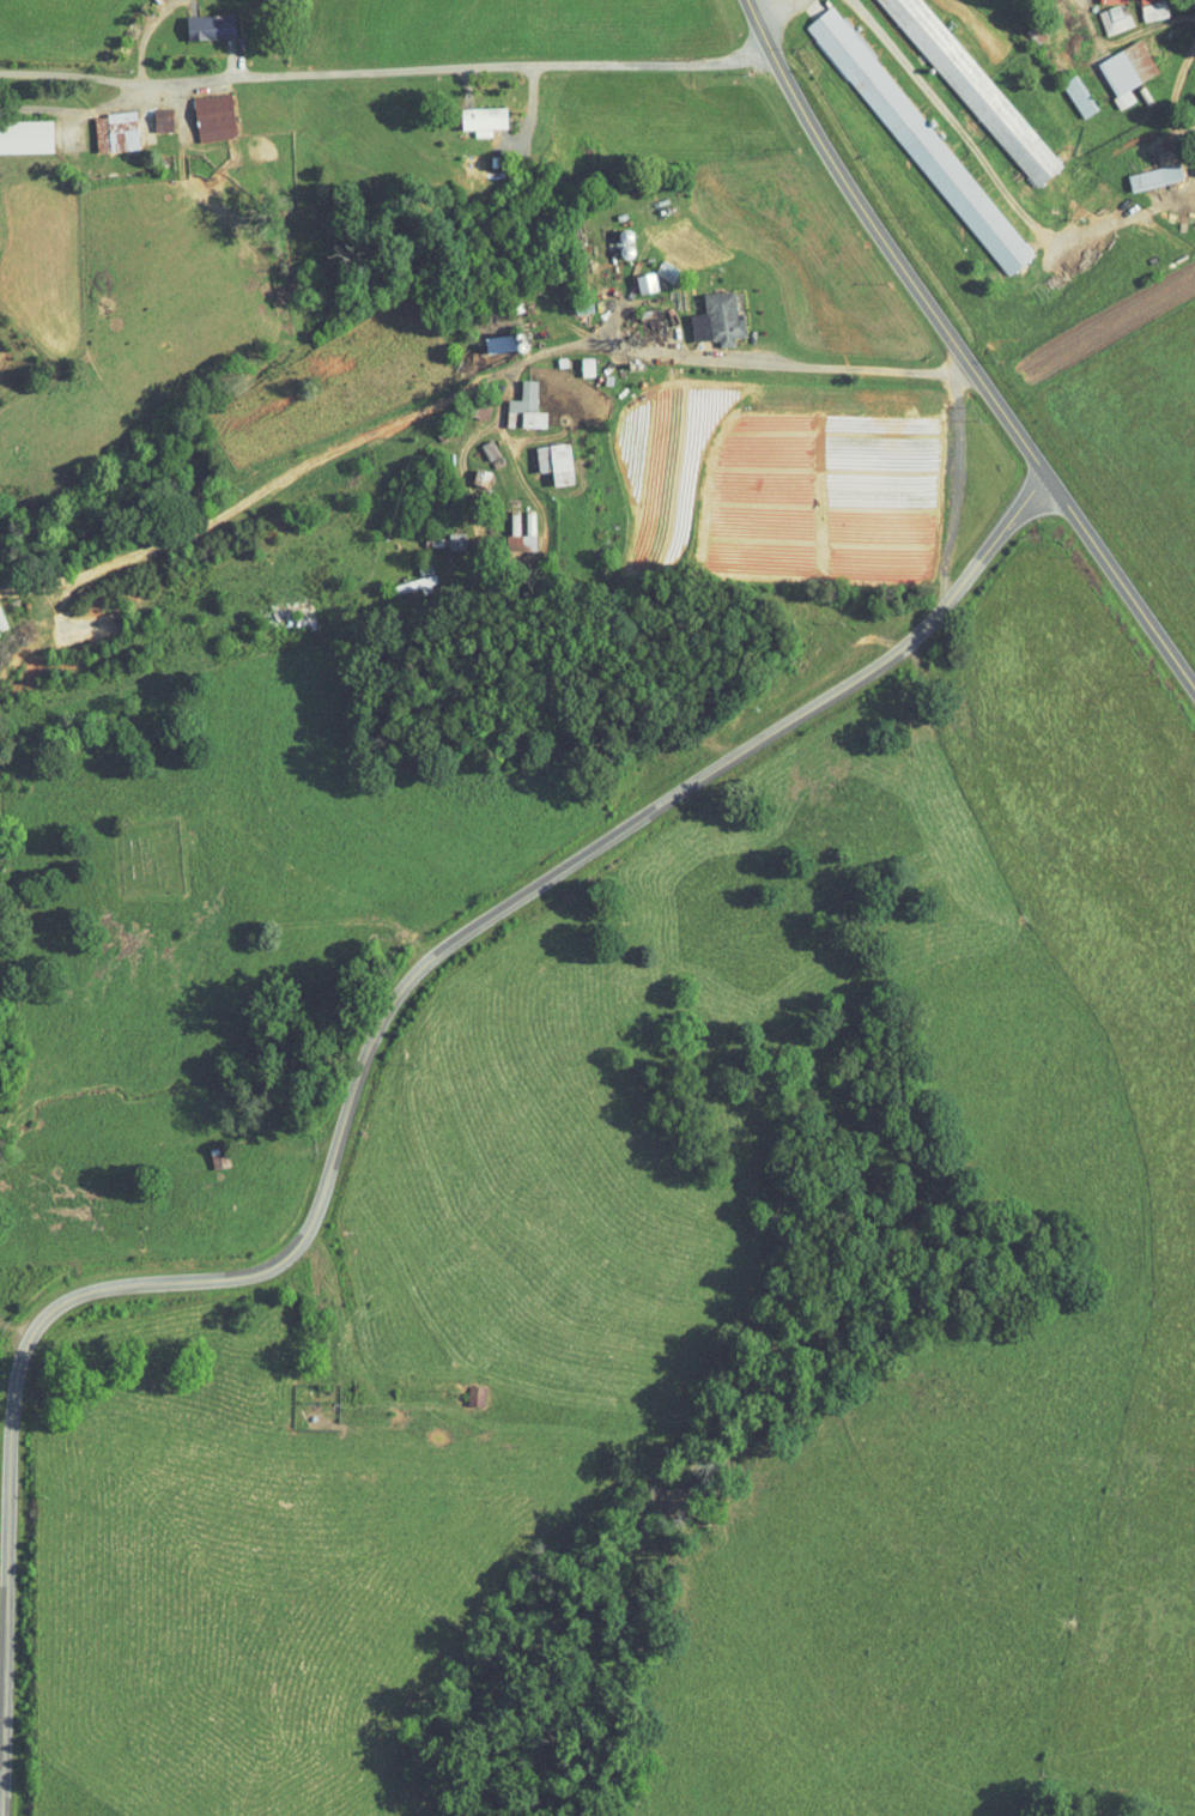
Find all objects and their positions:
building: (1140, 6)
building: (1102, 12)
building: (196, 19)
building: (917, 35)
building: (1114, 63)
road: (380, 74)
building: (1066, 89)
building: (200, 109)
building: (150, 113)
building: (471, 113)
building: (102, 125)
building: (19, 128)
building: (906, 133)
building: (1193, 159)
building: (1142, 169)
building: (633, 276)
building: (705, 311)
building: (639, 316)
building: (575, 359)
road: (952, 359)
road: (460, 385)
building: (514, 400)
building: (479, 446)
building: (542, 455)
building: (468, 471)
building: (508, 535)
building: (406, 573)
road: (439, 948)
building: (462, 1387)

